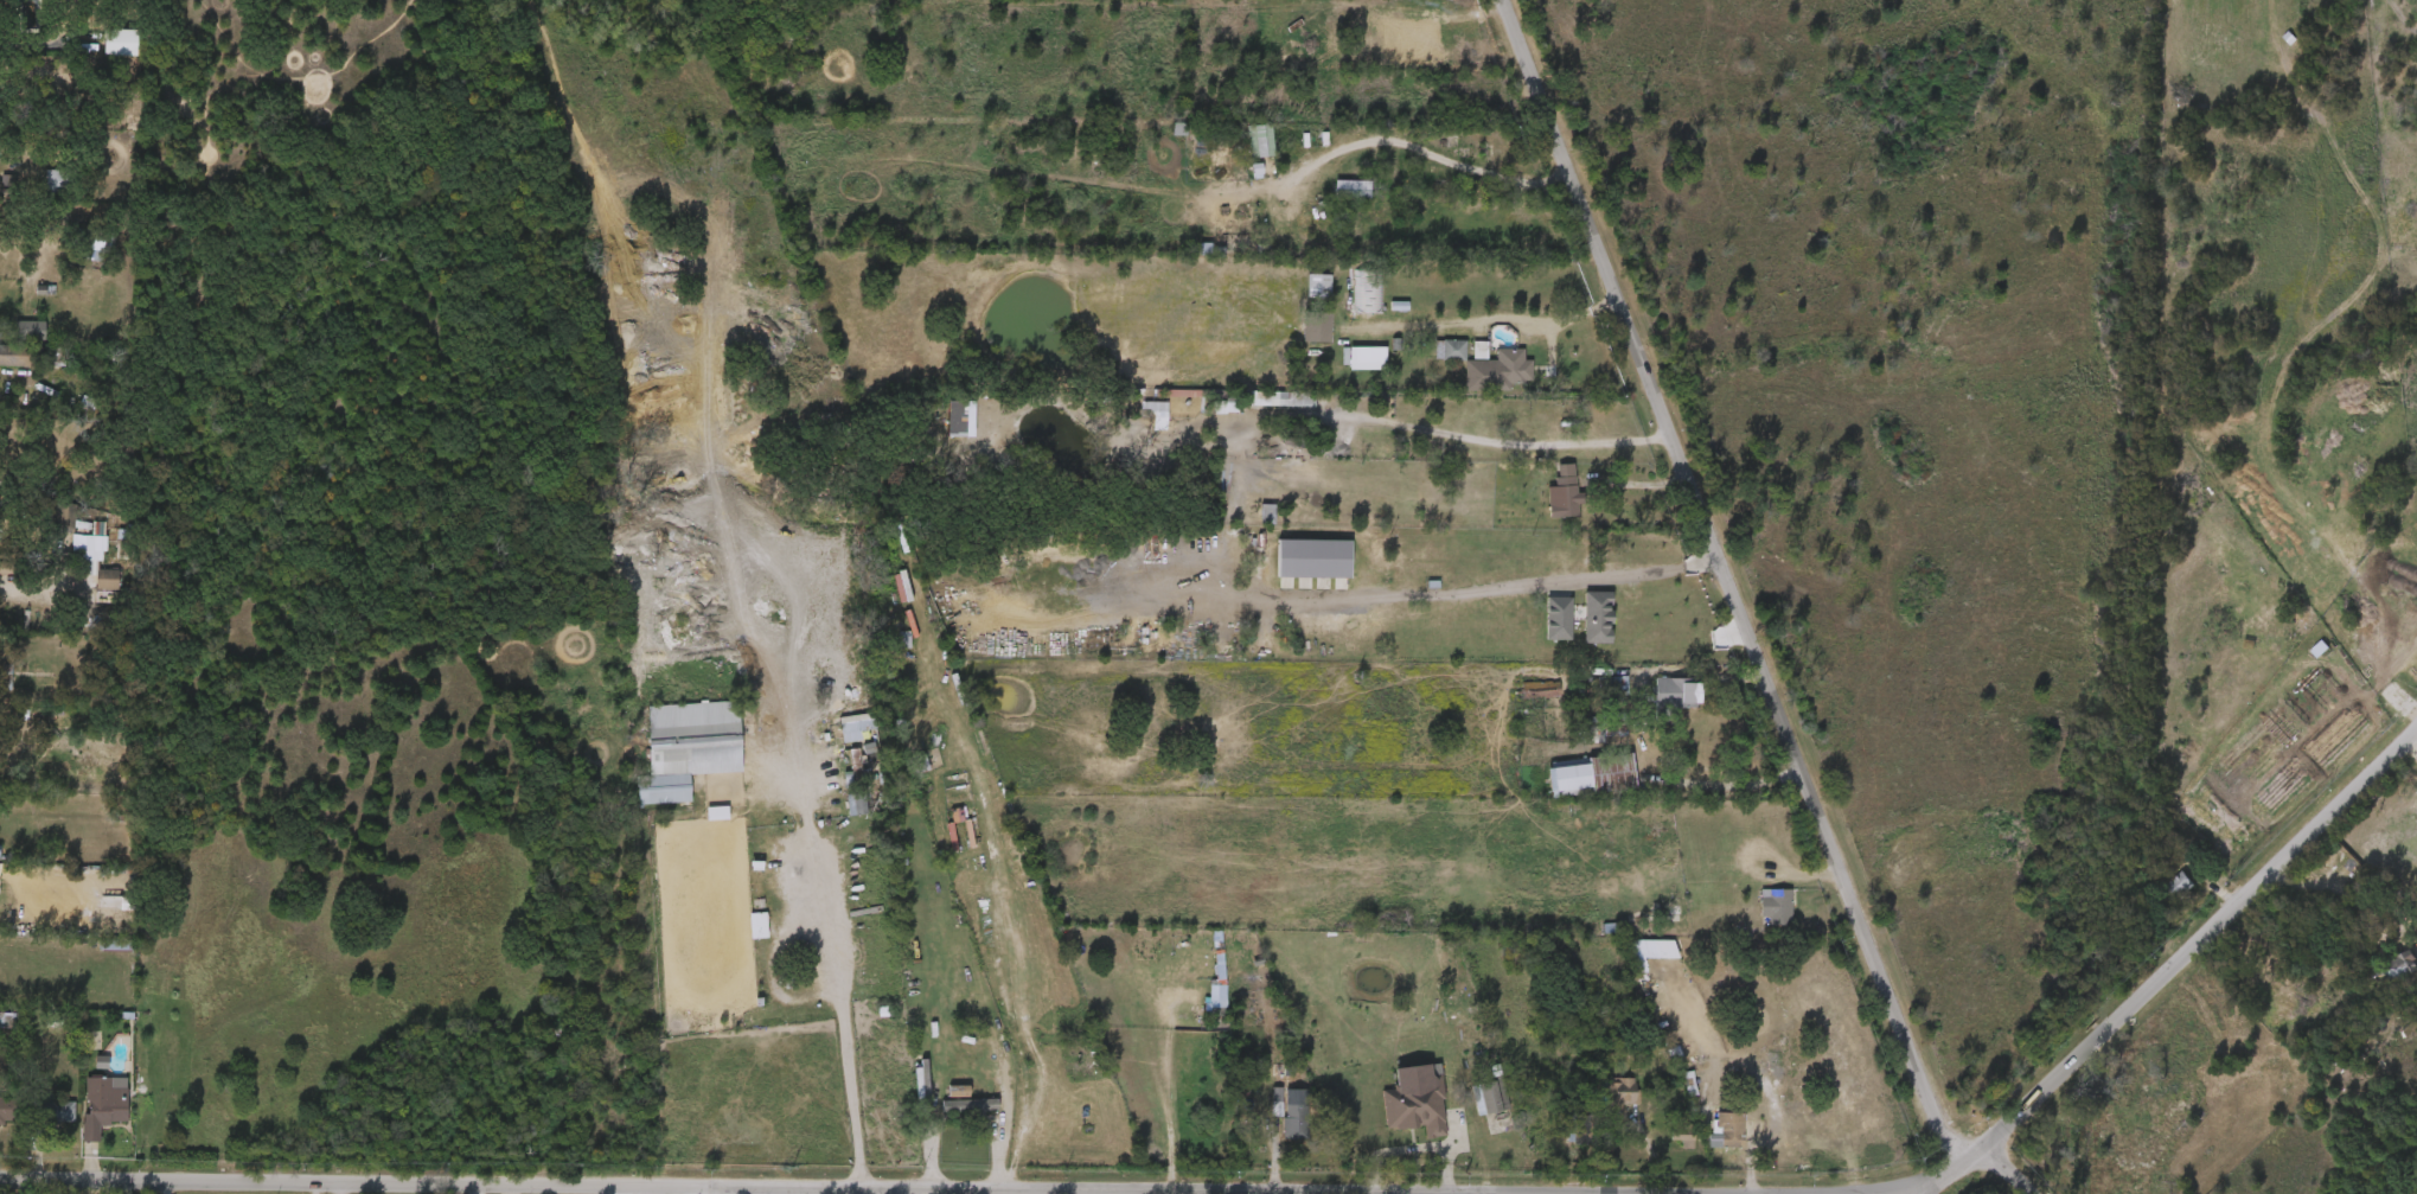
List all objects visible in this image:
building: (120, 40)
building: (101, 52)
building: (1240, 151)
road: (1434, 153)
building: (60, 180)
building: (1318, 286)
building: (1369, 290)
building: (1299, 295)
road: (1497, 318)
building: (1317, 326)
building: (32, 330)
building: (1297, 338)
building: (13, 339)
building: (1451, 350)
building: (20, 355)
building: (1367, 359)
building: (1431, 360)
building: (1347, 368)
building: (1510, 368)
building: (1478, 381)
building: (1285, 400)
building: (1262, 409)
building: (1137, 423)
building: (940, 428)
road: (1490, 439)
building: (1568, 496)
building: (1543, 507)
building: (65, 515)
building: (1247, 524)
road: (1725, 586)
building: (89, 589)
road: (1459, 590)
building: (1578, 627)
road: (1699, 670)
building: (1539, 690)
building: (1598, 694)
building: (1673, 697)
building: (857, 721)
building: (1607, 727)
building: (839, 733)
road: (2413, 742)
building: (690, 747)
building: (853, 768)
building: (1592, 773)
building: (856, 803)
building: (697, 823)
building: (938, 824)
building: (2170, 841)
building: (2178, 885)
road: (2347, 887)
building: (2159, 894)
building: (1777, 905)
building: (1757, 915)
building: (756, 925)
building: (740, 934)
road: (2198, 944)
building: (2399, 966)
building: (2380, 977)
road: (843, 984)
building: (963, 1039)
building: (904, 1083)
building: (1619, 1092)
building: (1496, 1096)
building: (935, 1100)
building: (1601, 1102)
building: (1419, 1104)
building: (104, 1106)
building: (1471, 1106)
building: (970, 1107)
building: (12, 1109)
building: (53, 1113)
building: (85, 1115)
building: (951, 1117)
road: (1006, 1118)
building: (1275, 1123)
building: (1298, 1123)
building: (1735, 1128)
building: (1582, 1131)
building: (1682, 1134)
building: (1556, 1138)
building: (1716, 1138)
building: (1663, 1144)
road: (2007, 1167)
road: (1943, 1179)
road: (500, 1189)
road: (478, 1192)
road: (512, 1192)

